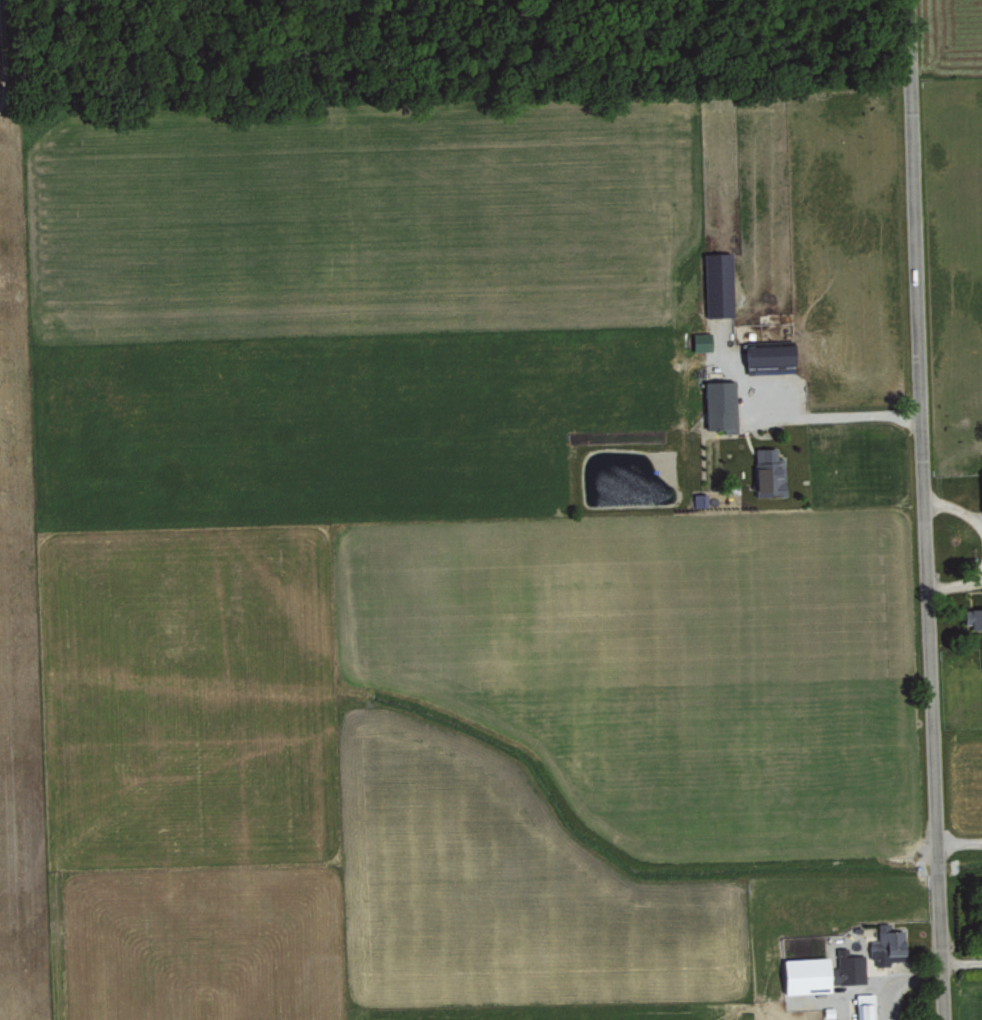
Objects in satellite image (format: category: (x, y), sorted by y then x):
building: (719, 284)
building: (701, 341)
building: (769, 356)
building: (720, 406)
road: (810, 418)
building: (768, 473)
building: (700, 499)
road: (924, 509)
building: (973, 619)
road: (958, 843)
building: (887, 944)
building: (848, 966)
building: (806, 974)
road: (895, 979)
building: (864, 1006)

